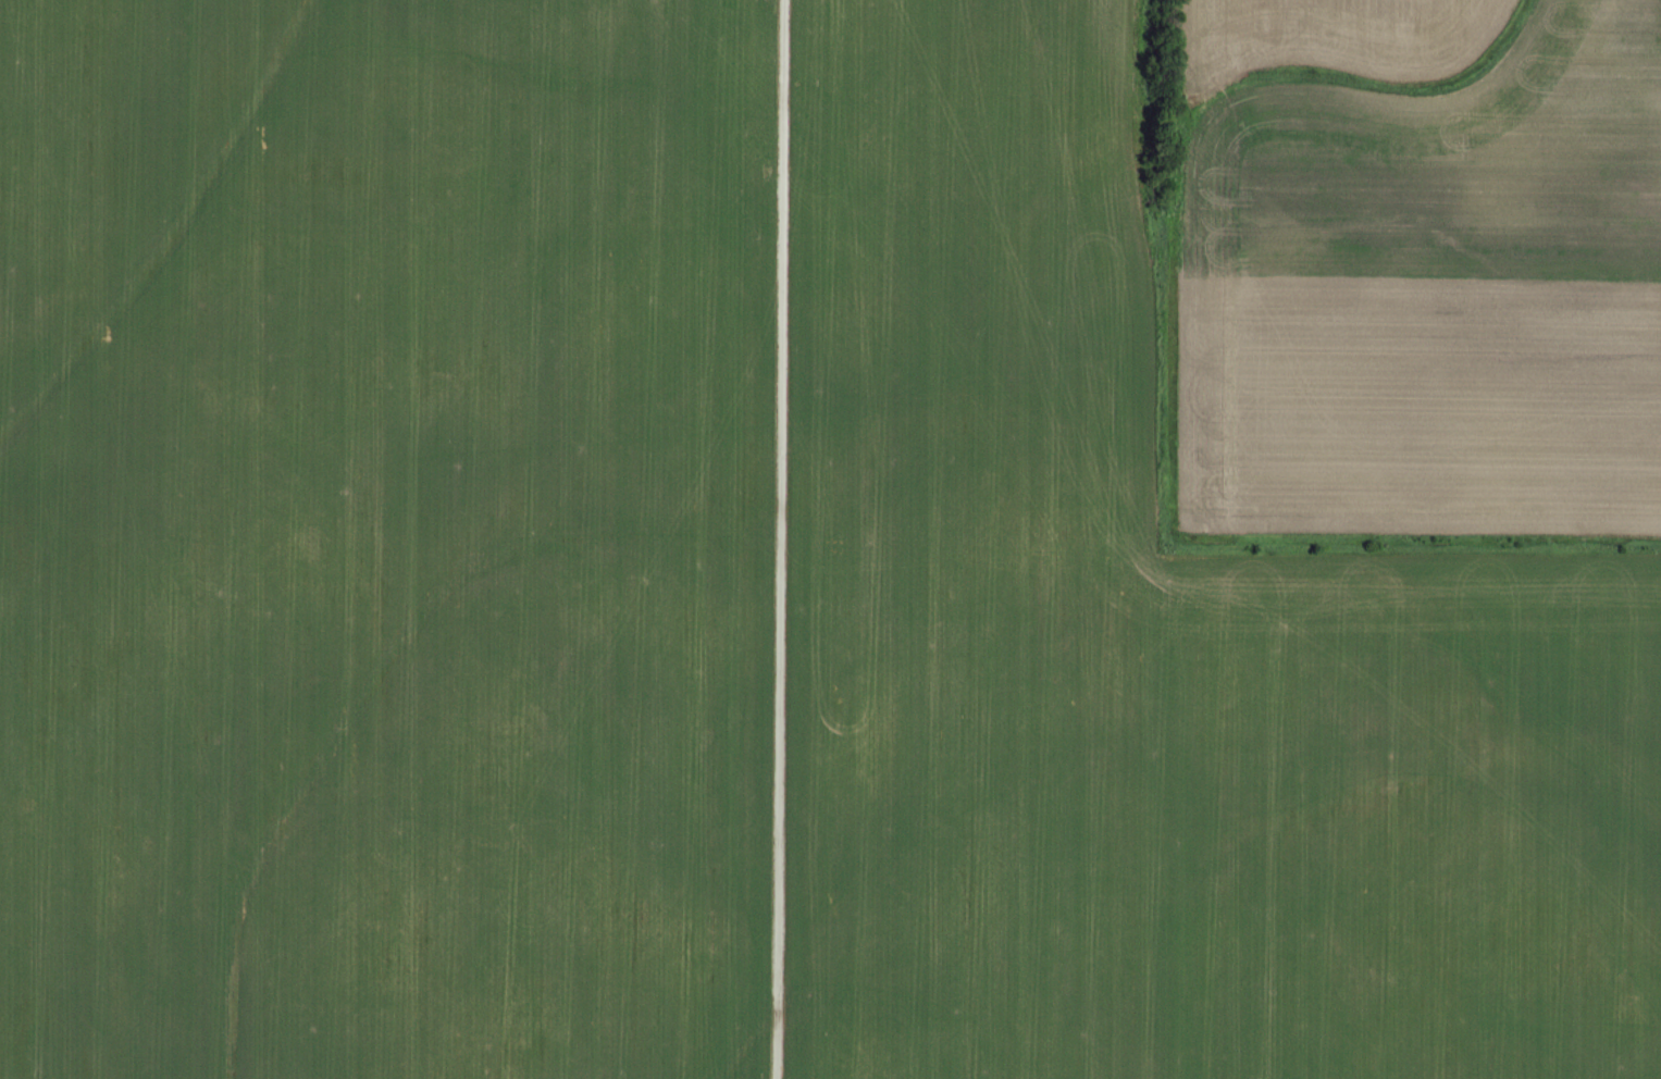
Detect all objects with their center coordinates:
road: (781, 539)

